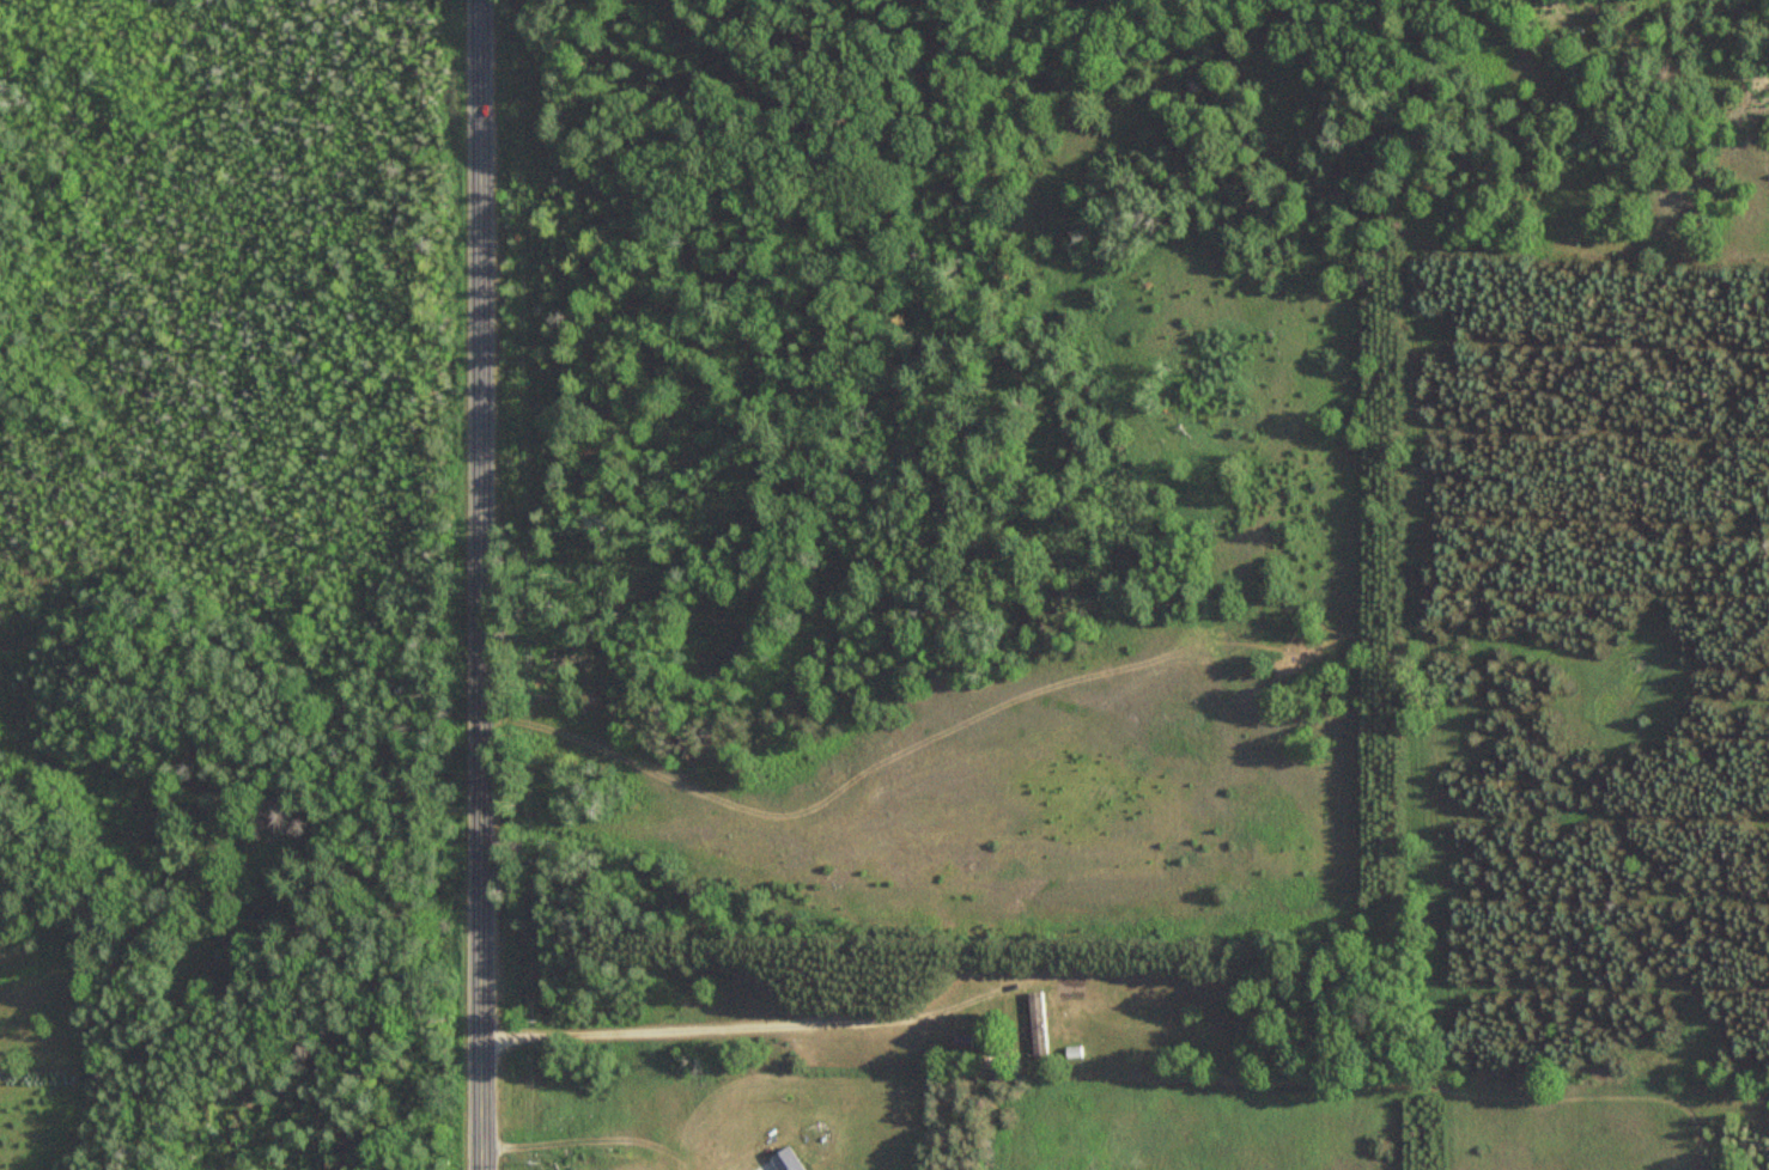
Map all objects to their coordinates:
road: (481, 585)
building: (1038, 1024)
building: (785, 1159)

